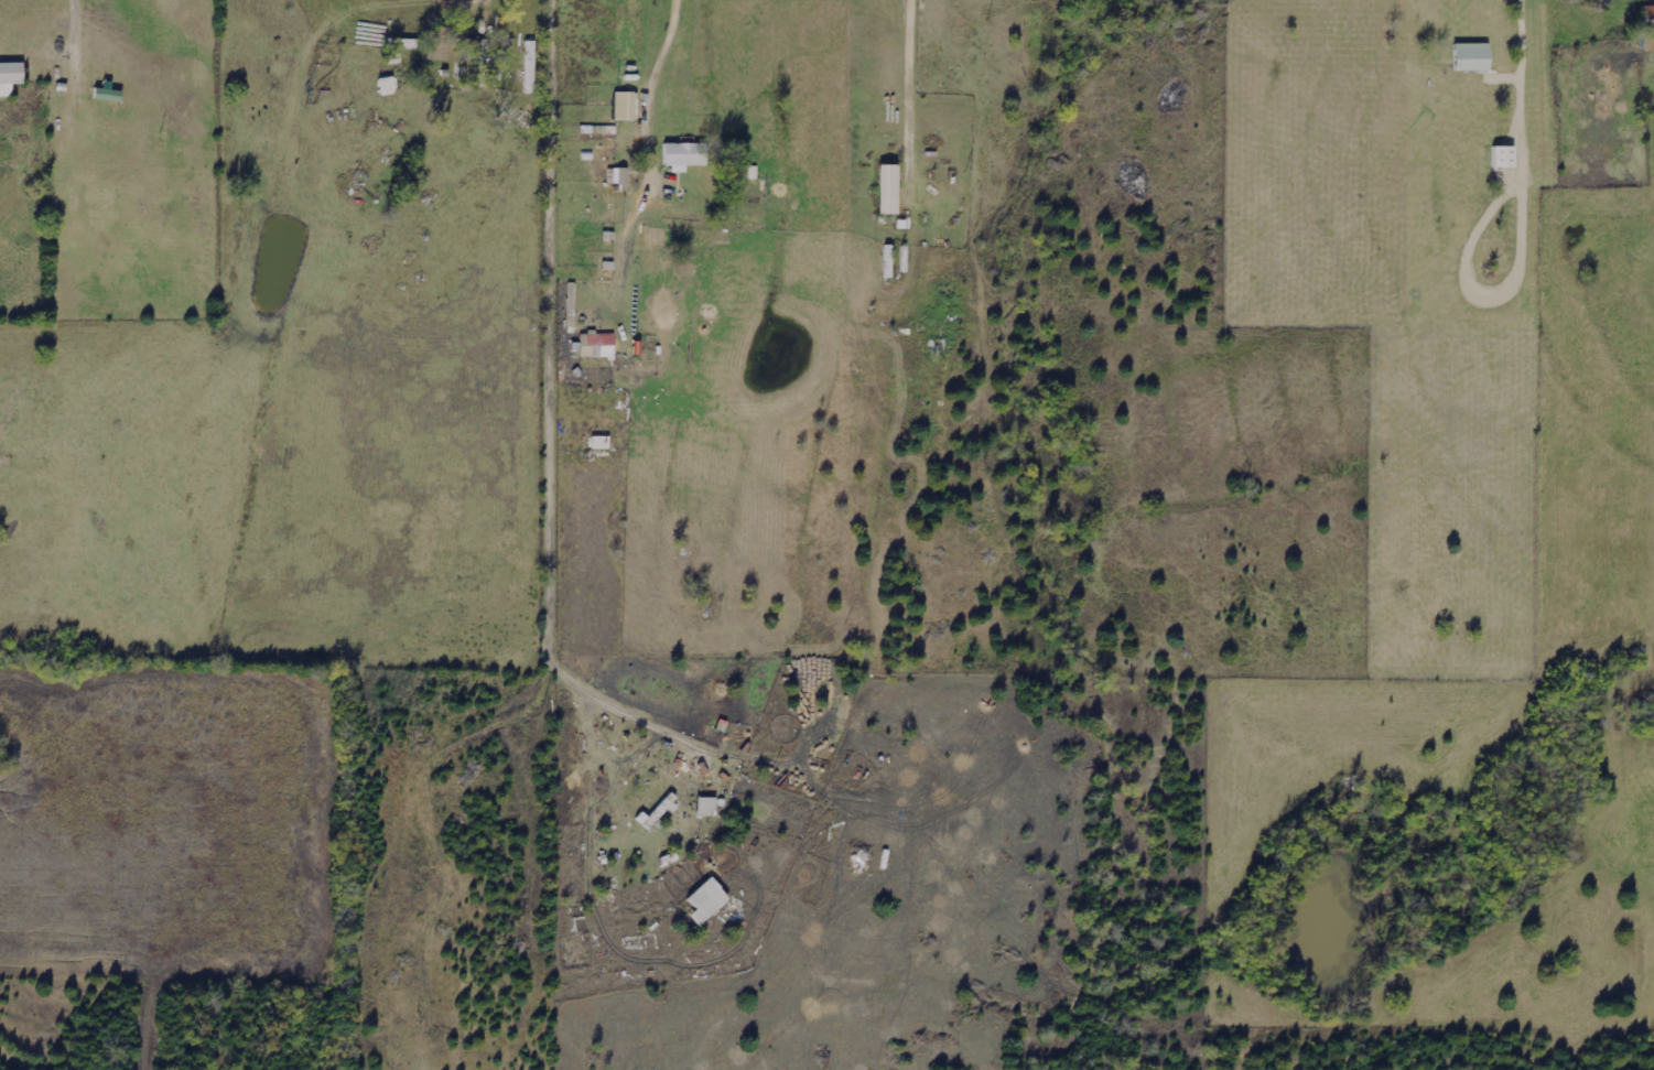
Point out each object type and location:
building: (1648, 28)
building: (437, 43)
building: (475, 48)
building: (1472, 57)
building: (529, 66)
building: (10, 77)
building: (108, 95)
building: (626, 106)
building: (684, 155)
building: (1503, 156)
building: (620, 176)
building: (888, 190)
building: (597, 346)
building: (601, 443)
building: (706, 808)
building: (656, 813)
building: (706, 901)

